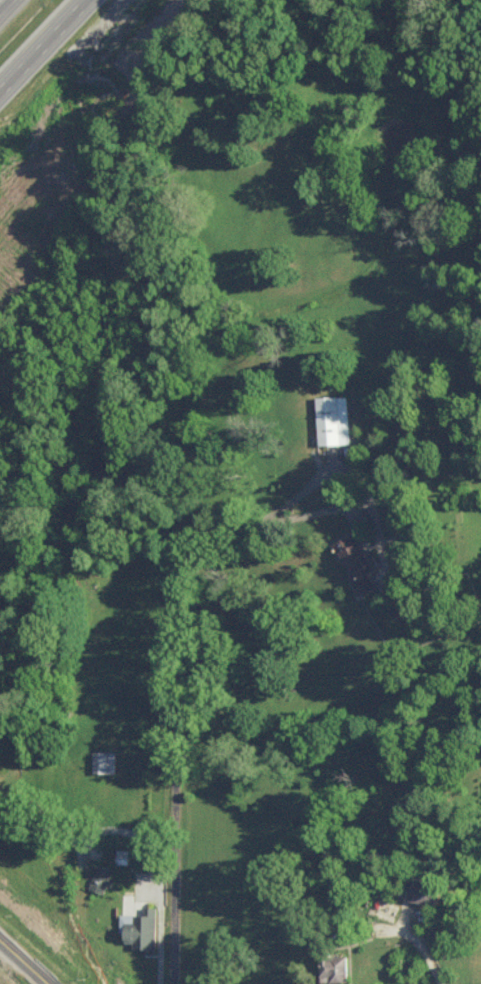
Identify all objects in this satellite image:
road: (15, 16)
road: (54, 21)
road: (56, 21)
road: (17, 60)
building: (334, 419)
building: (359, 562)
road: (178, 637)
building: (105, 760)
road: (154, 865)
building: (141, 876)
building: (426, 891)
road: (7, 900)
road: (7, 927)
building: (140, 928)
road: (27, 951)
road: (414, 961)
building: (337, 965)
road: (21, 969)

